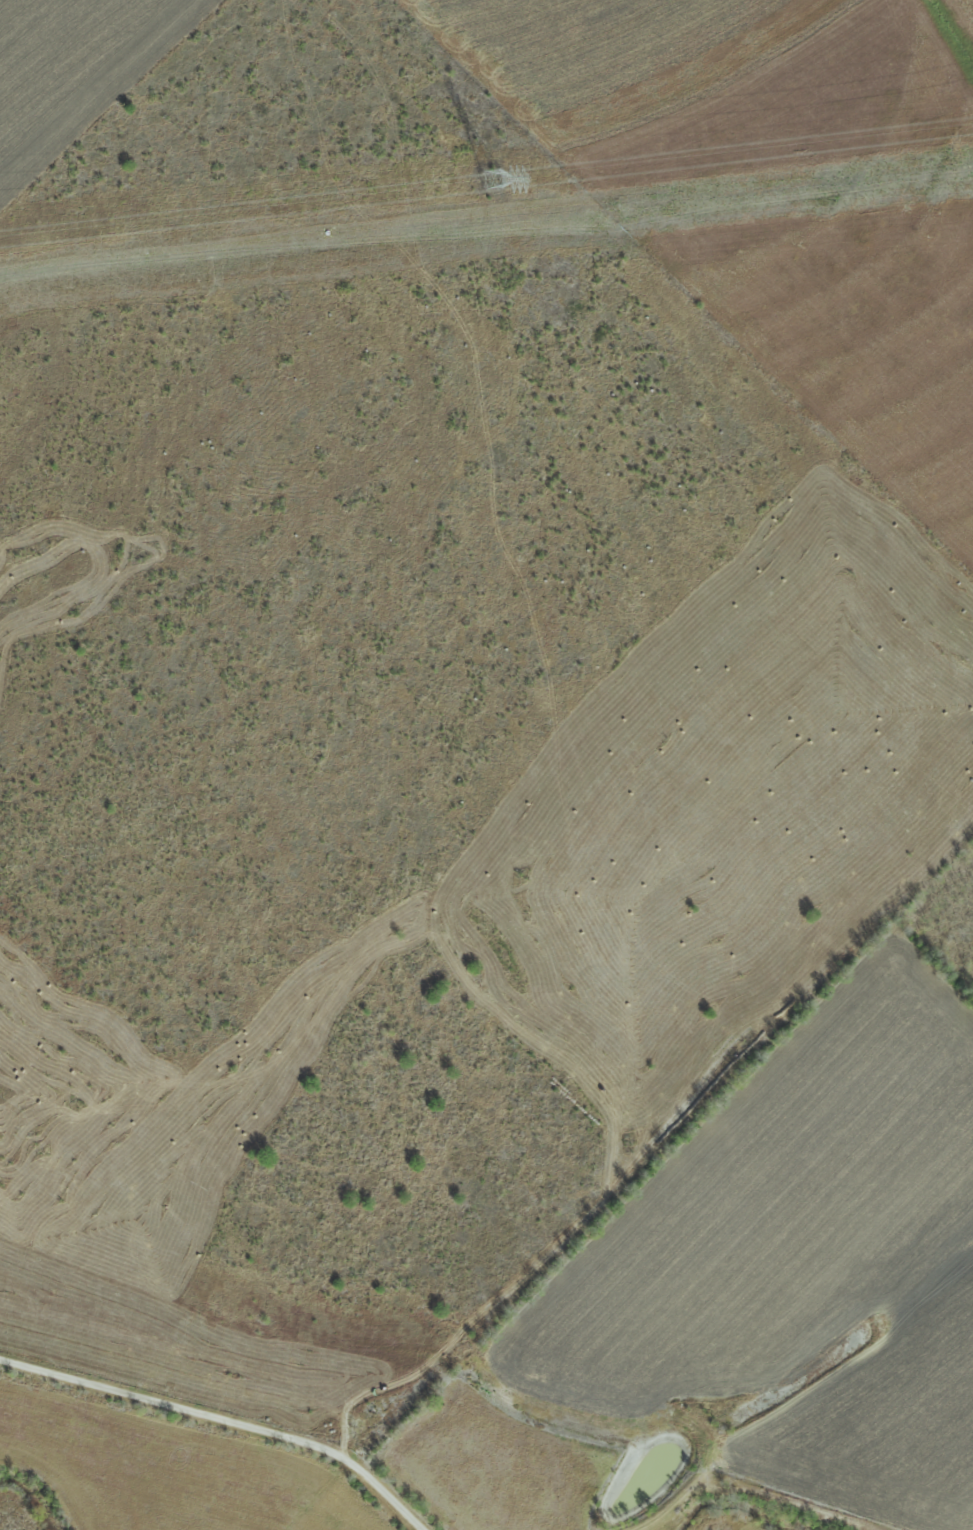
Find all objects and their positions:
power tower: (491, 179)
road: (223, 1419)

